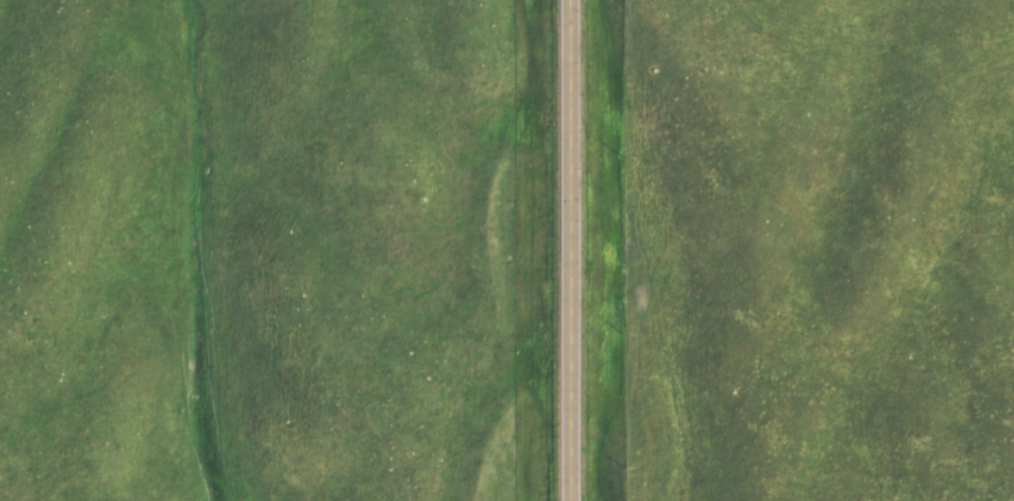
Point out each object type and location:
road: (567, 250)

